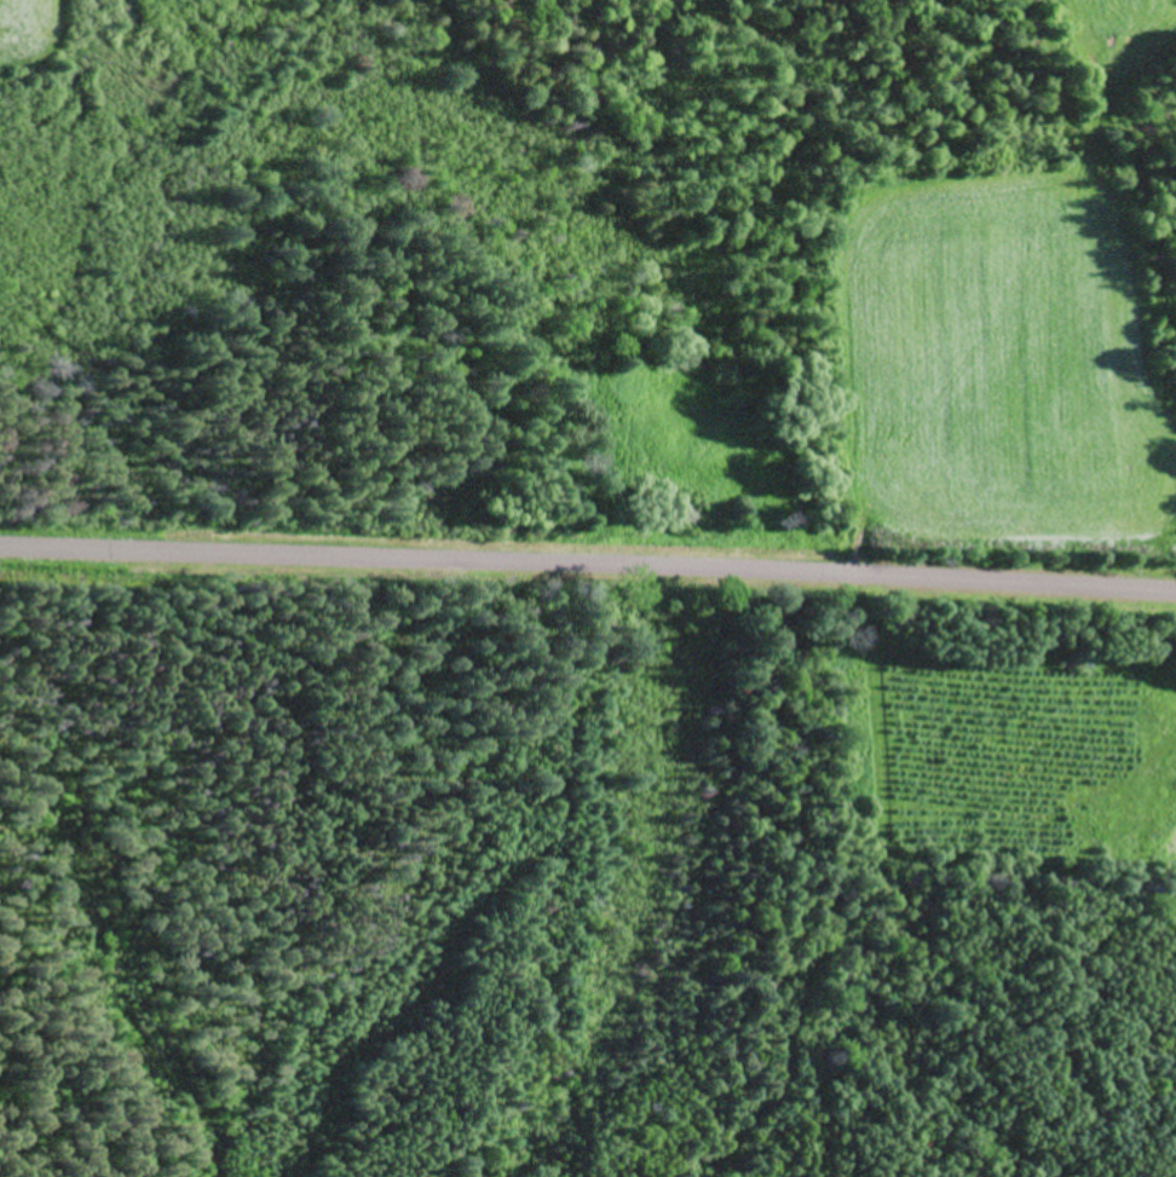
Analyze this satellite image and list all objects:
road: (588, 575)

